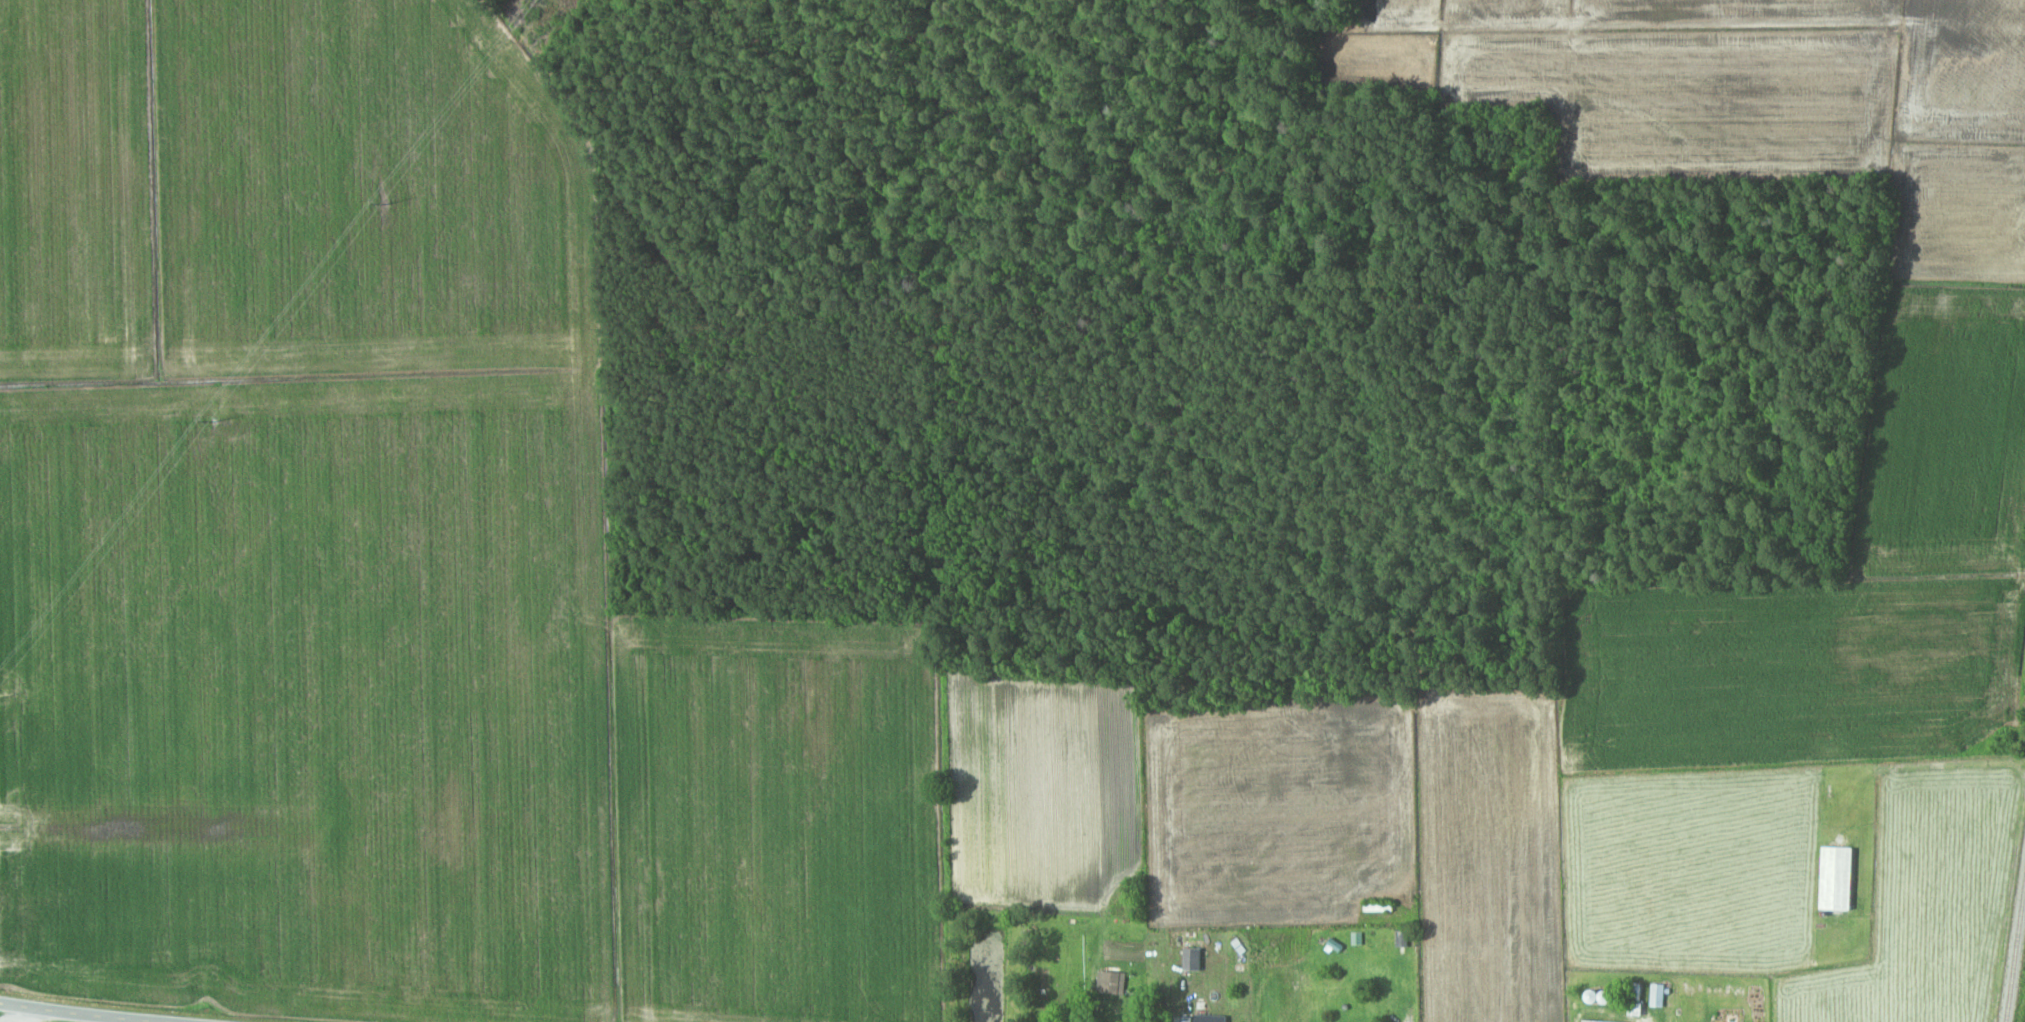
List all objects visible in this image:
power tower: (387, 203)
power tower: (215, 421)
building: (1838, 878)
building: (1378, 908)
building: (1403, 939)
building: (1376, 945)
railway: (2015, 949)
building: (1112, 982)
building: (1658, 995)
road: (216, 1013)
building: (1212, 1018)
building: (1595, 1021)

